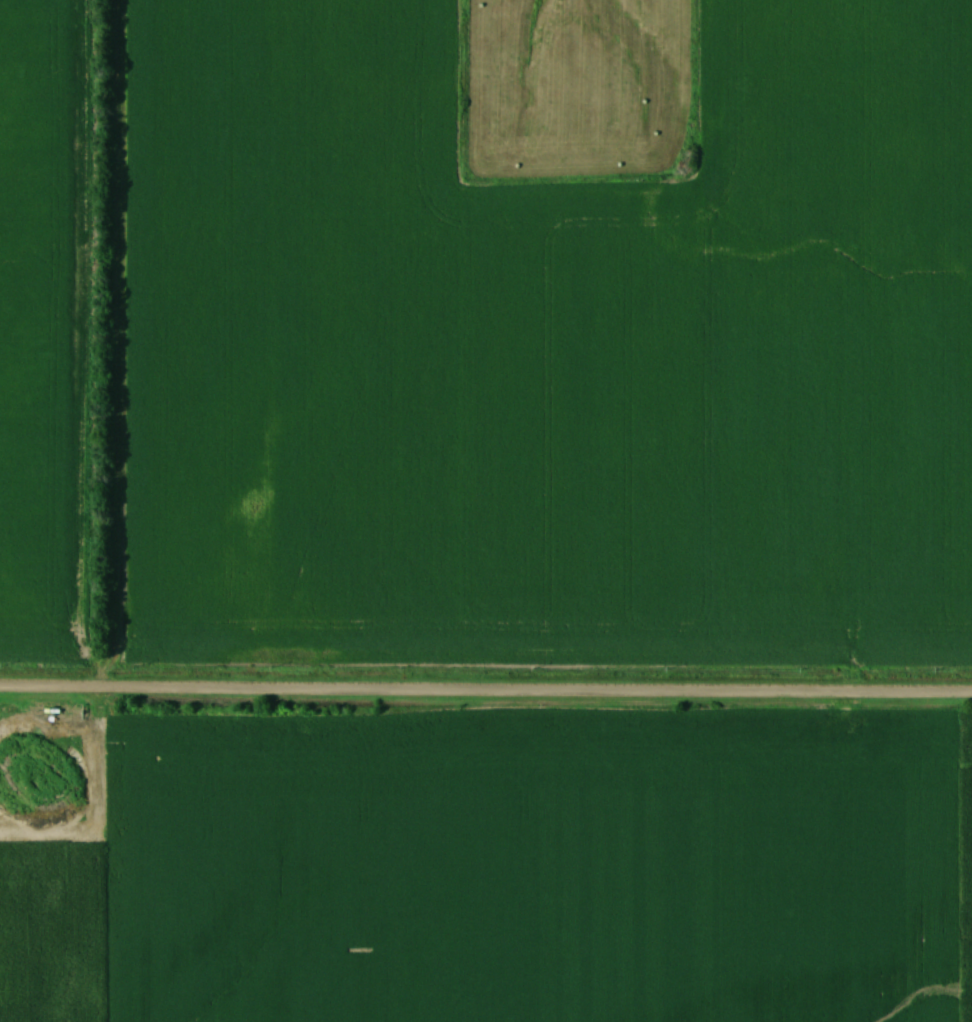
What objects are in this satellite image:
road: (486, 688)

